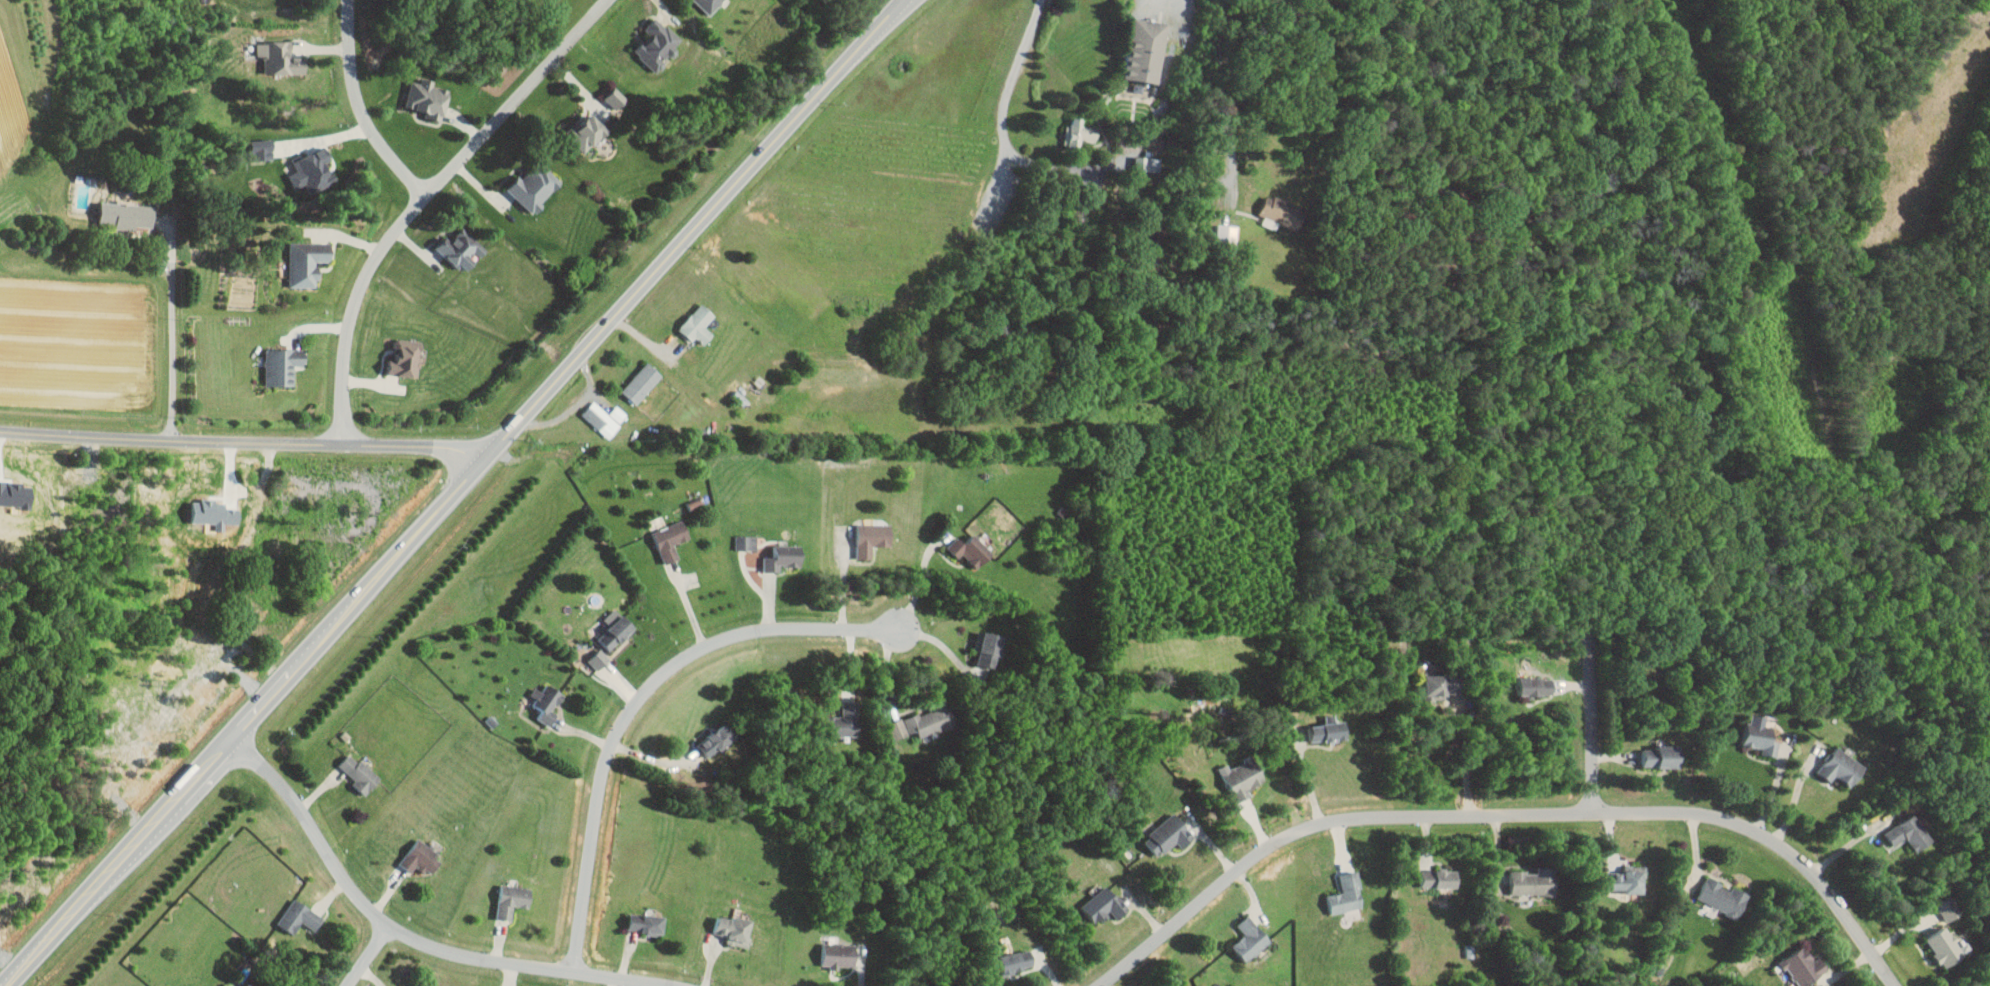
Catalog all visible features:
road: (1177, 3)
building: (709, 4)
road: (896, 8)
road: (900, 8)
building: (657, 44)
building: (1146, 50)
building: (279, 58)
building: (616, 98)
building: (427, 99)
road: (360, 108)
road: (1003, 118)
building: (587, 133)
building: (1079, 133)
road: (327, 137)
building: (262, 153)
building: (1148, 164)
building: (312, 171)
building: (535, 188)
road: (423, 196)
building: (1282, 213)
building: (127, 215)
building: (1227, 235)
building: (462, 250)
building: (306, 263)
building: (698, 325)
road: (172, 332)
building: (405, 360)
building: (282, 366)
building: (642, 383)
building: (605, 418)
road: (247, 442)
road: (447, 502)
building: (695, 503)
building: (872, 537)
building: (670, 538)
building: (746, 541)
building: (971, 549)
building: (783, 557)
road: (844, 580)
road: (914, 585)
building: (615, 628)
road: (943, 645)
building: (990, 648)
building: (599, 658)
building: (1439, 685)
building: (1535, 686)
building: (548, 702)
road: (638, 708)
building: (846, 719)
building: (931, 720)
road: (1593, 723)
building: (897, 728)
building: (1328, 730)
building: (1759, 735)
building: (717, 739)
building: (1661, 755)
road: (1469, 757)
road: (659, 760)
building: (1842, 766)
building: (358, 772)
building: (1244, 777)
road: (1308, 777)
road: (1775, 789)
road: (1796, 796)
road: (1507, 814)
building: (1908, 833)
building: (1169, 835)
road: (1850, 842)
building: (421, 857)
building: (1440, 878)
building: (1629, 880)
building: (1535, 881)
building: (1348, 893)
building: (1724, 897)
building: (512, 899)
building: (1104, 905)
building: (1949, 908)
building: (299, 916)
building: (646, 923)
building: (735, 928)
road: (391, 932)
building: (1250, 938)
building: (1946, 947)
building: (839, 954)
road: (369, 958)
building: (1016, 961)
building: (1805, 966)
building: (242, 985)

